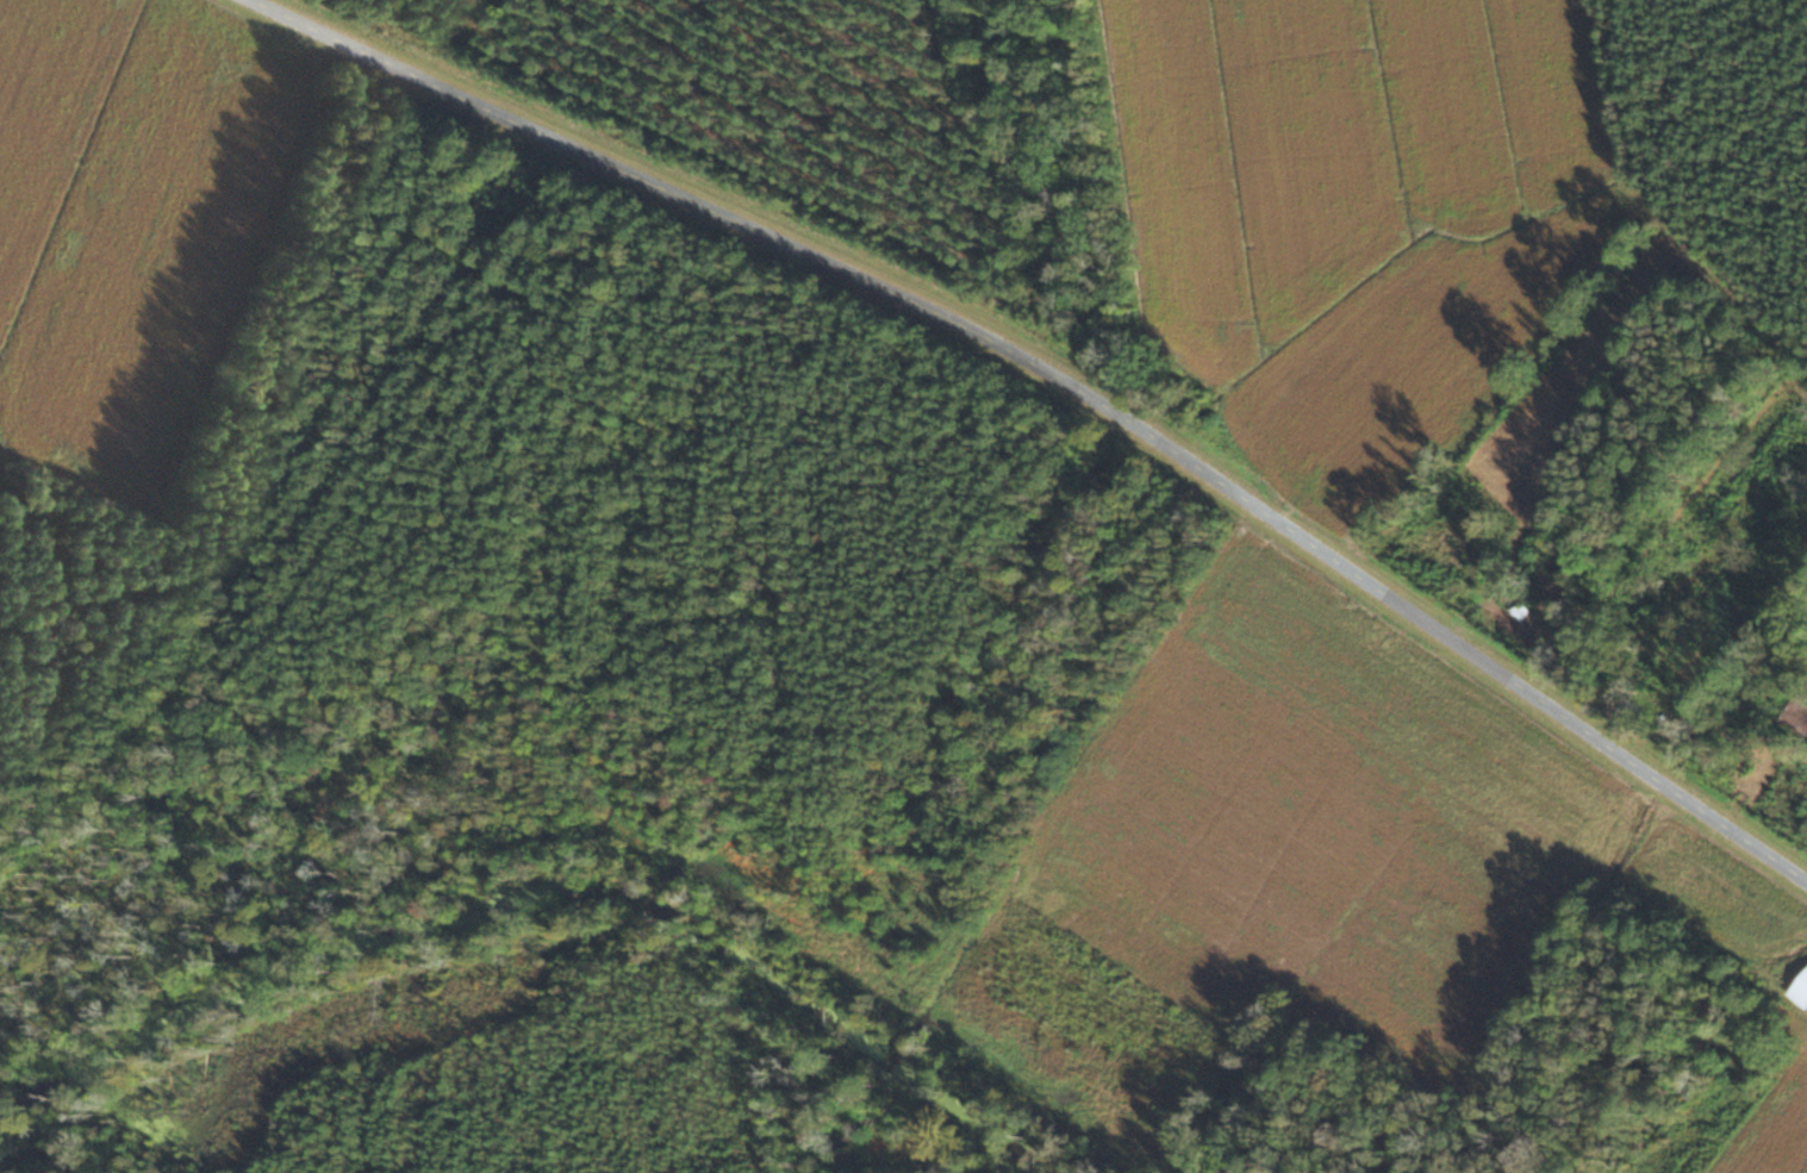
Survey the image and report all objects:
road: (1064, 381)
building: (1799, 707)
building: (1801, 991)

